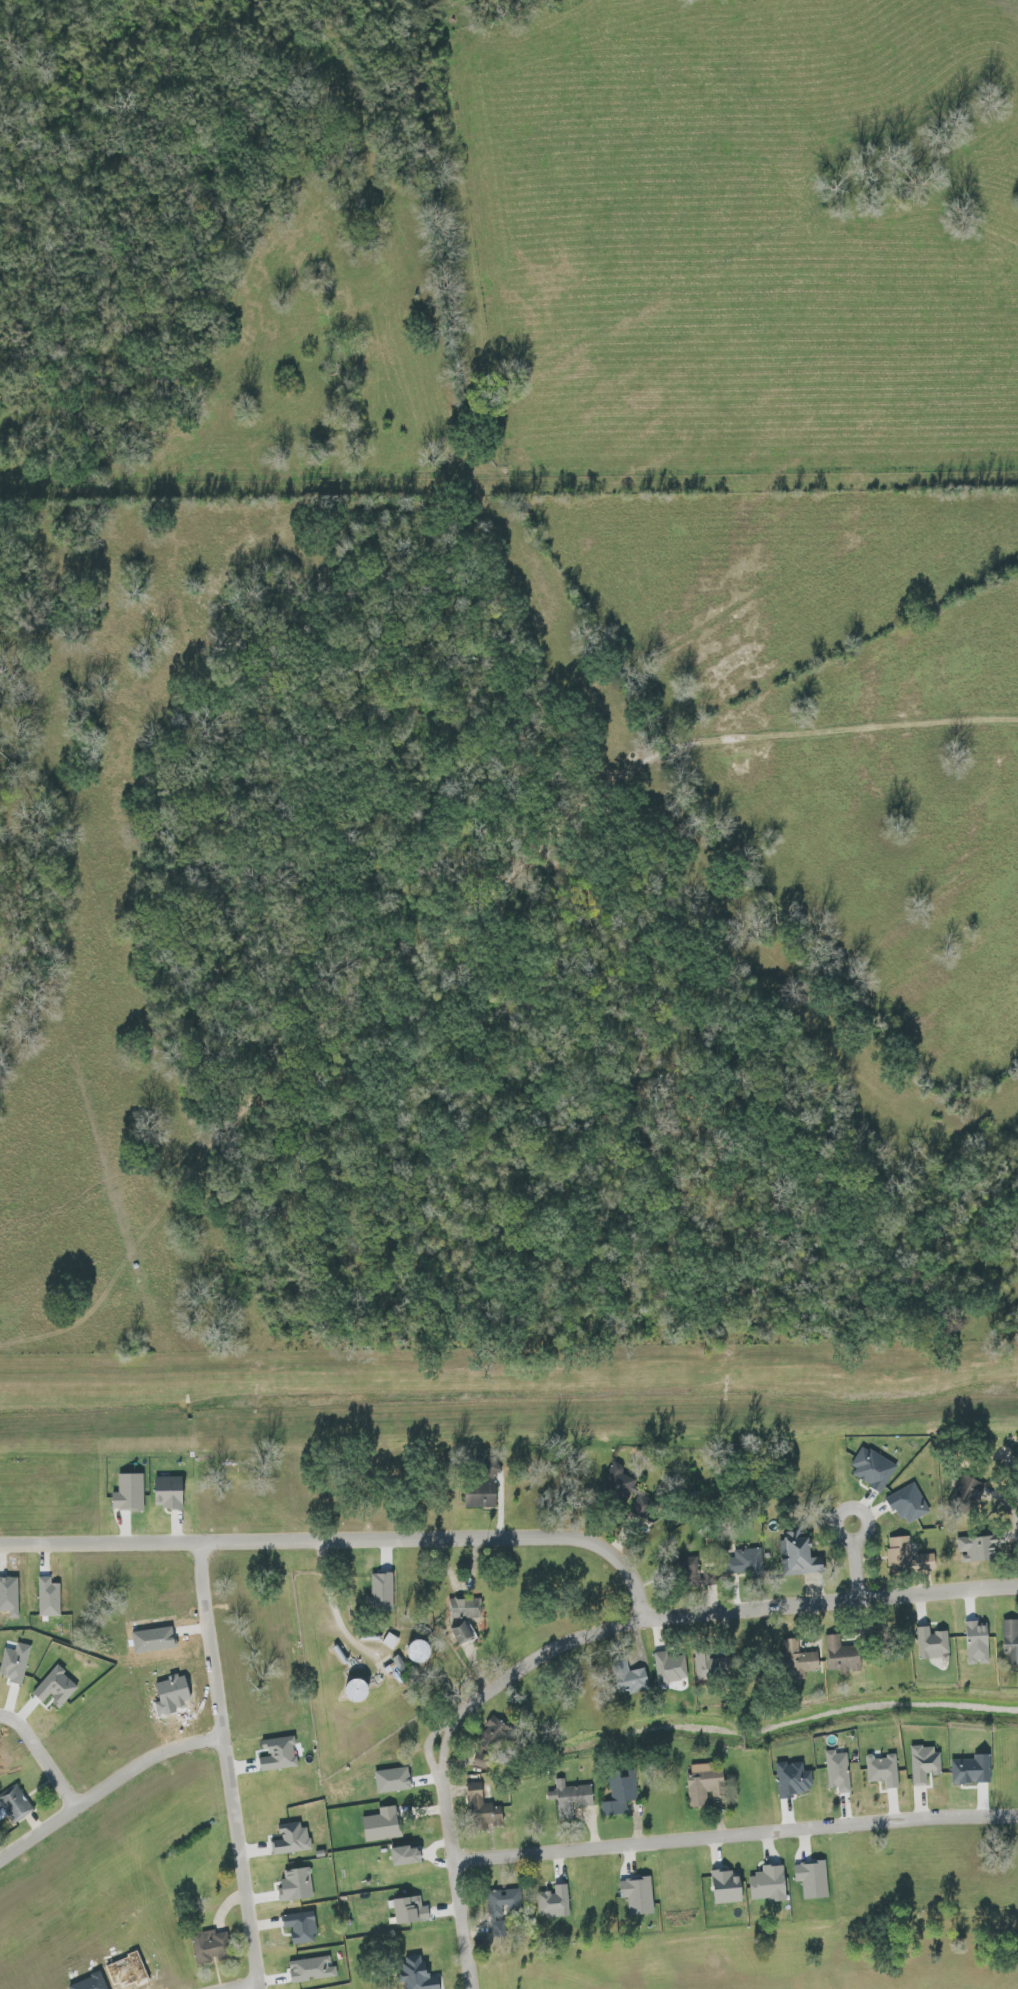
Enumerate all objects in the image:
building: (873, 1468)
building: (130, 1492)
building: (171, 1492)
building: (482, 1496)
building: (909, 1503)
building: (642, 1505)
road: (349, 1540)
building: (979, 1548)
building: (802, 1554)
building: (908, 1556)
building: (745, 1561)
road: (861, 1571)
building: (702, 1573)
building: (382, 1591)
building: (49, 1598)
road: (330, 1605)
building: (466, 1606)
road: (651, 1622)
building: (466, 1634)
building: (390, 1640)
building: (1011, 1642)
building: (933, 1643)
building: (420, 1651)
building: (843, 1656)
building: (802, 1657)
building: (15, 1662)
building: (672, 1666)
building: (713, 1666)
building: (57, 1687)
building: (358, 1690)
building: (491, 1744)
building: (280, 1754)
road: (42, 1759)
building: (924, 1764)
road: (233, 1765)
building: (884, 1770)
building: (970, 1770)
building: (839, 1771)
building: (795, 1779)
building: (705, 1784)
road: (109, 1788)
building: (622, 1794)
building: (572, 1796)
building: (15, 1805)
building: (485, 1806)
building: (383, 1824)
road: (736, 1836)
building: (293, 1839)
building: (408, 1855)
building: (814, 1879)
building: (771, 1884)
building: (297, 1885)
building: (728, 1887)
building: (639, 1895)
building: (555, 1901)
building: (504, 1907)
building: (410, 1910)
road: (465, 1925)
building: (303, 1927)
building: (211, 1946)
park: (814, 1956)
building: (312, 1969)
building: (419, 1974)
road: (259, 1988)

